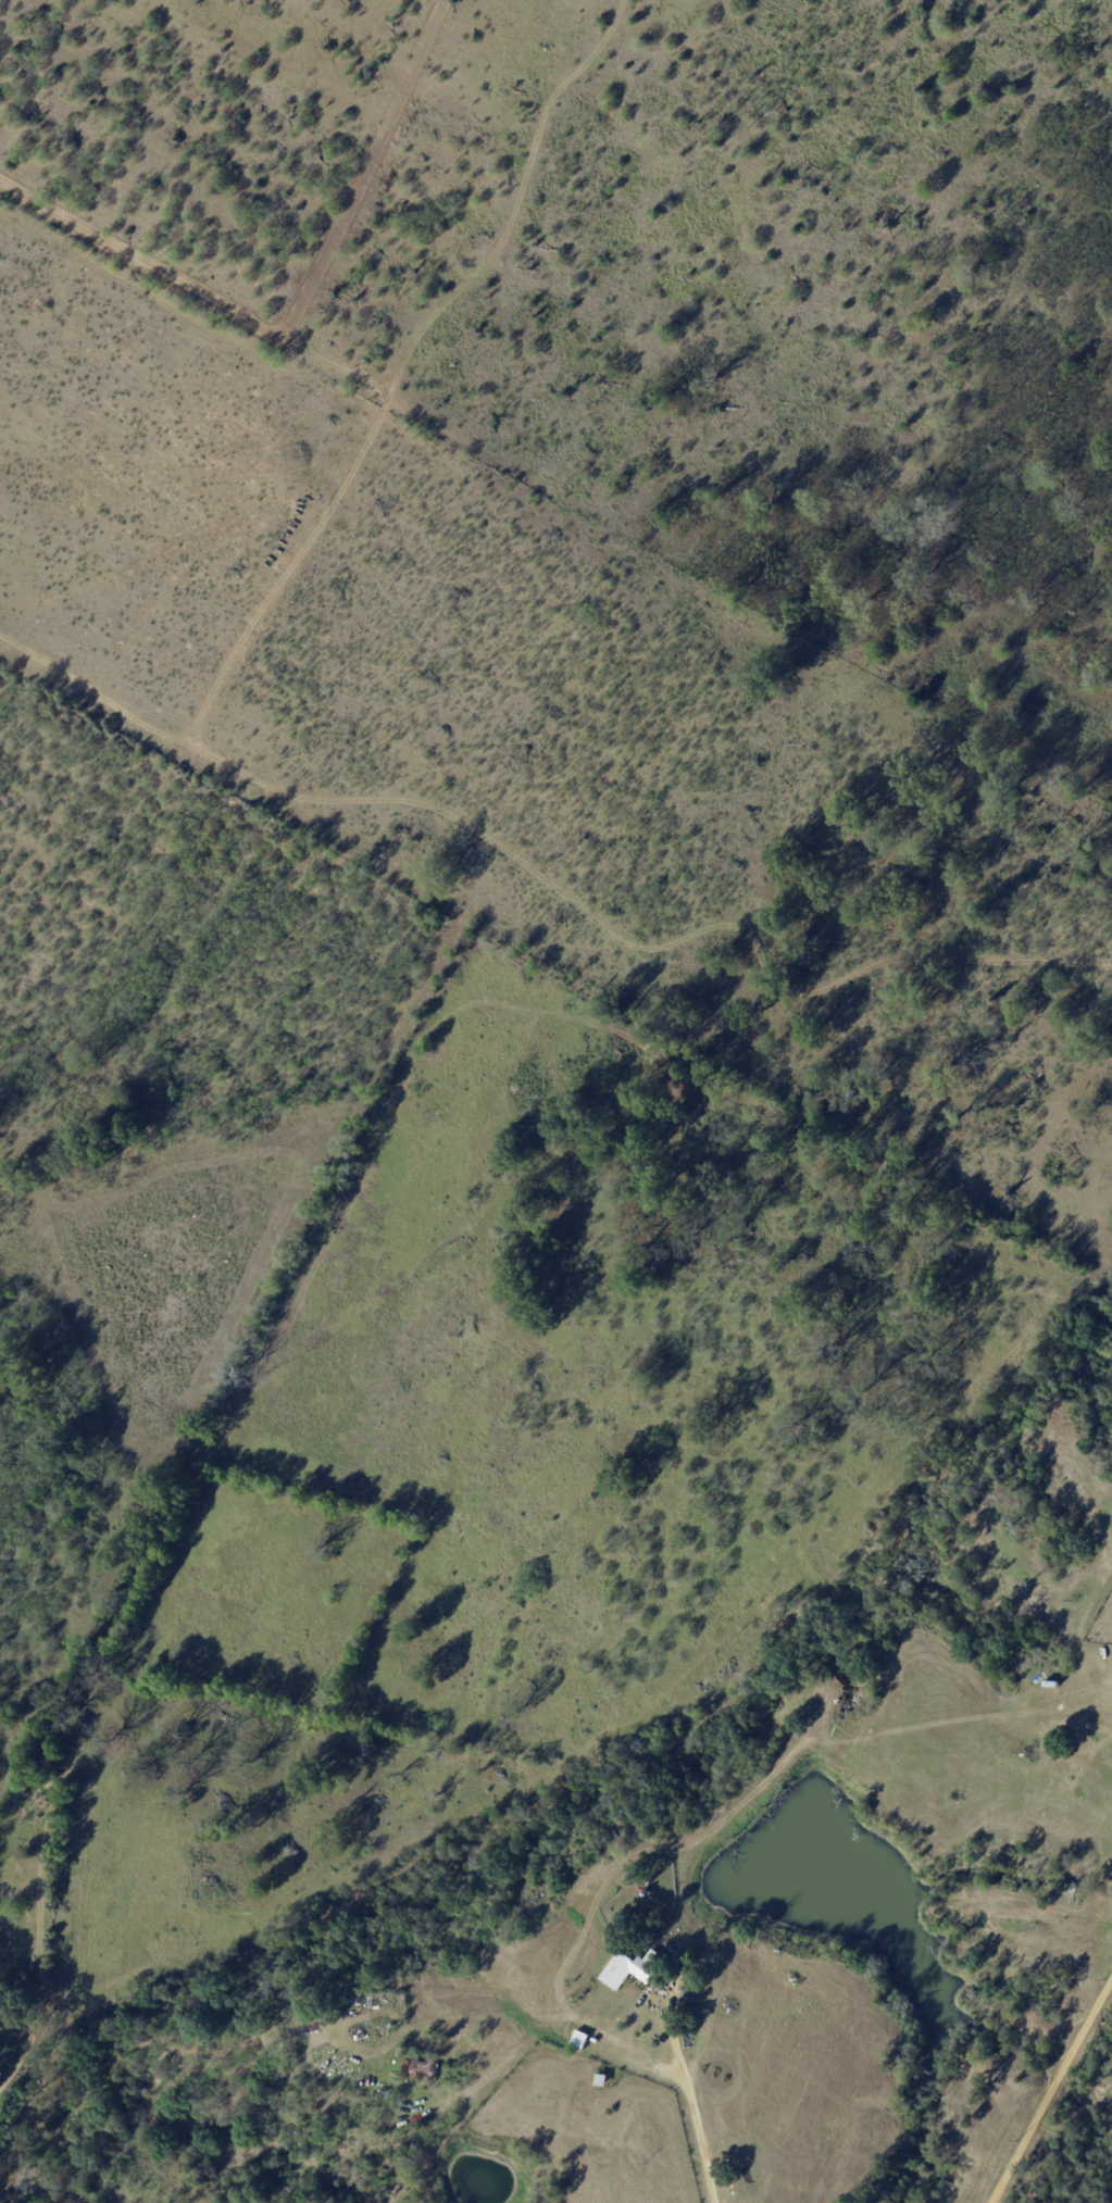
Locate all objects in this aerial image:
building: (49, 1756)
building: (35, 1797)
building: (630, 1968)
building: (576, 2006)
building: (567, 2032)
building: (583, 2040)
building: (422, 2067)
building: (602, 2081)
road: (1050, 2089)
road: (694, 2104)

